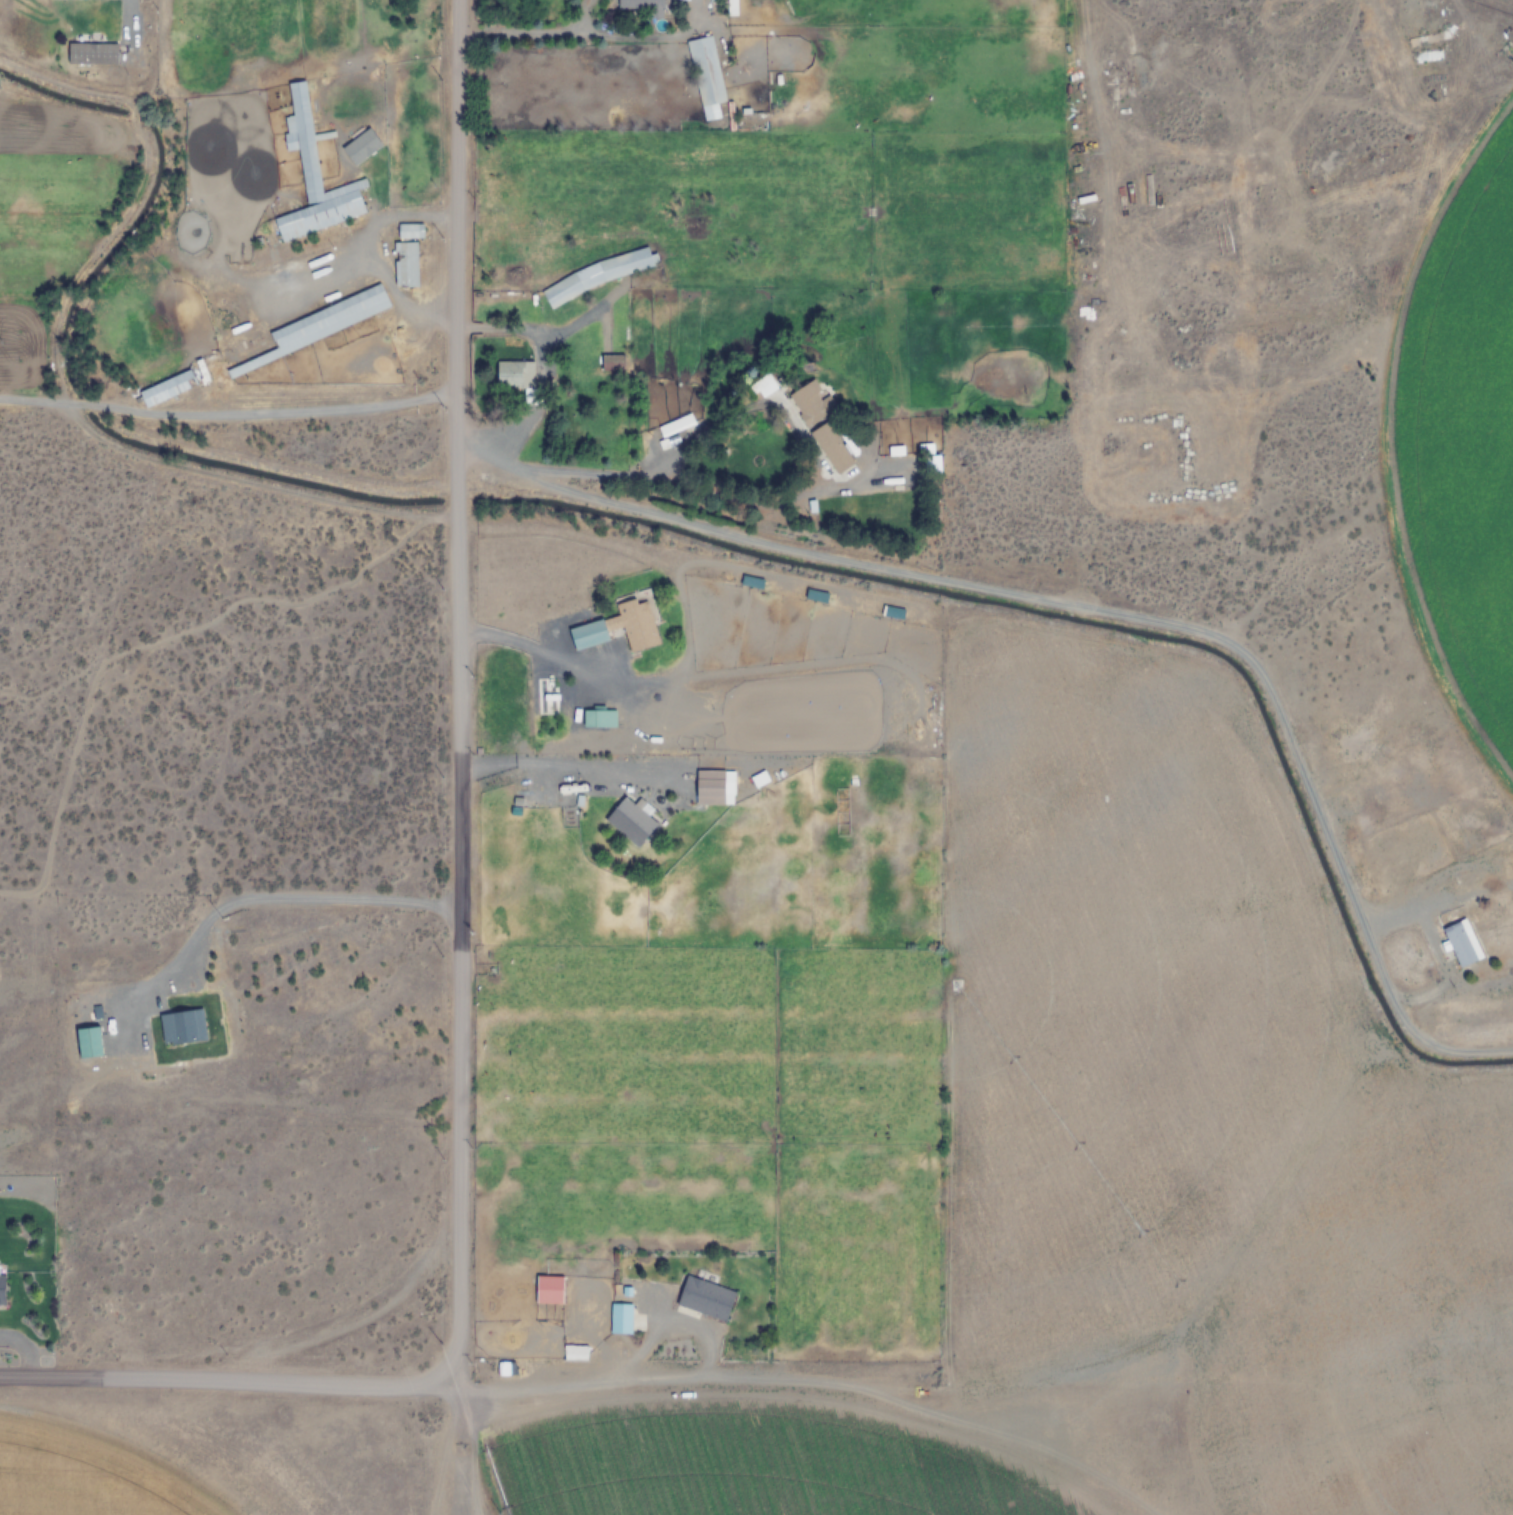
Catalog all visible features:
building: (640, 5)
road: (124, 6)
building: (92, 53)
building: (705, 71)
building: (315, 175)
road: (424, 218)
building: (409, 231)
building: (404, 264)
building: (327, 322)
building: (613, 361)
building: (518, 380)
building: (173, 386)
building: (764, 386)
building: (810, 403)
building: (831, 449)
crop: (614, 559)
road: (872, 564)
building: (751, 583)
building: (815, 597)
road: (457, 598)
building: (637, 622)
building: (588, 635)
building: (545, 697)
building: (598, 719)
building: (709, 788)
building: (630, 822)
road: (266, 904)
building: (1428, 934)
building: (1461, 943)
building: (182, 1026)
building: (89, 1042)
building: (2, 1289)
building: (549, 1290)
building: (705, 1299)
road: (360, 1308)
building: (619, 1318)
road: (454, 1355)
road: (227, 1380)

